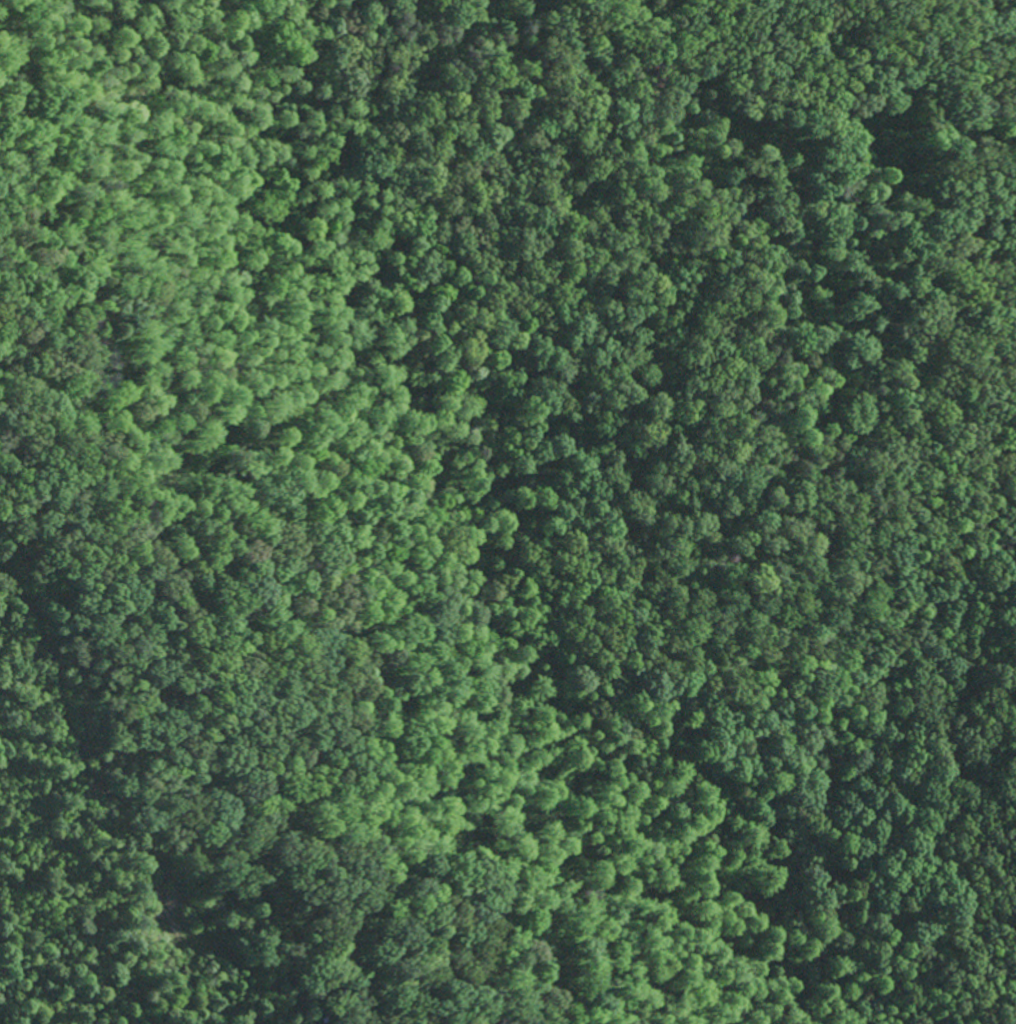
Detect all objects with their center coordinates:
road: (855, 113)

